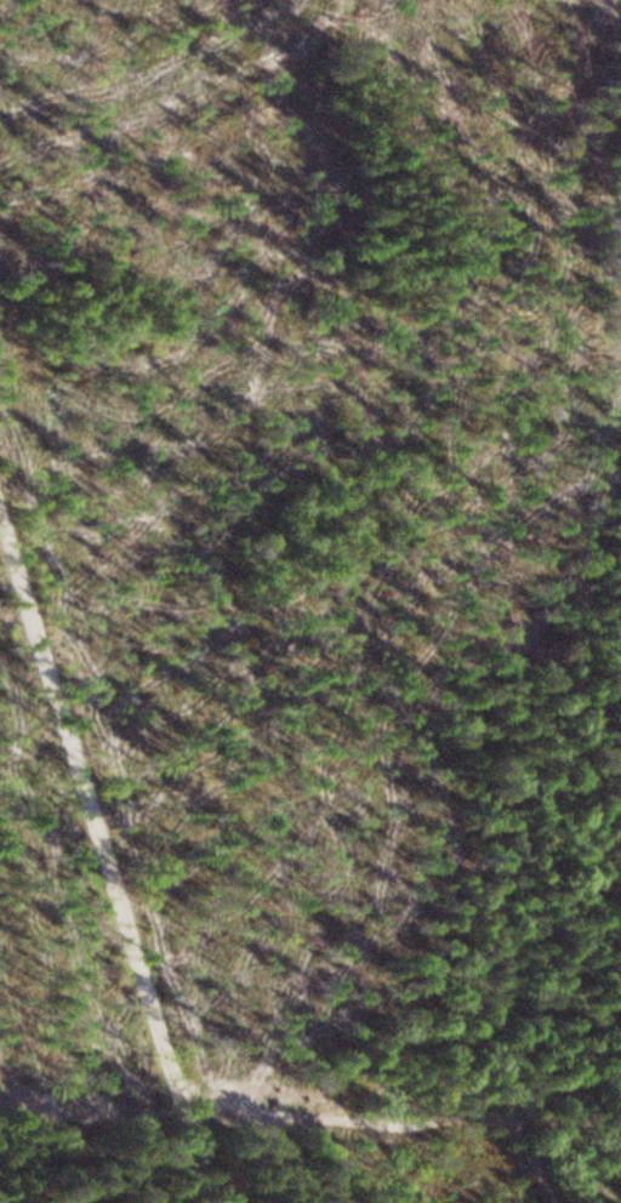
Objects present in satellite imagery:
road: (110, 831)
road: (310, 1116)

